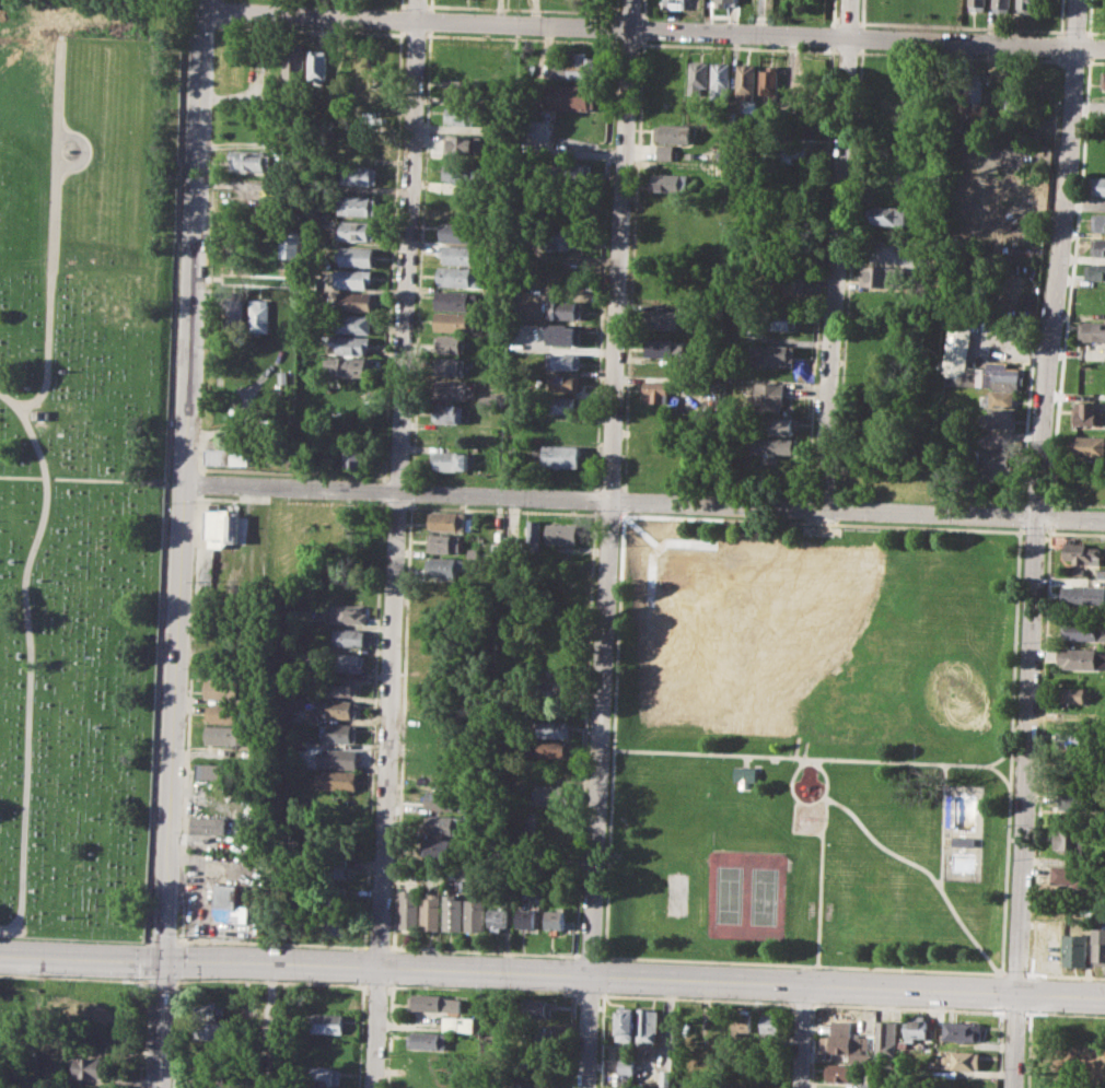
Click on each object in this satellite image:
building: (723, 2)
road: (431, 4)
building: (675, 4)
building: (976, 4)
building: (1000, 5)
building: (1025, 5)
road: (615, 8)
road: (643, 9)
road: (1090, 17)
road: (430, 19)
road: (614, 27)
road: (642, 28)
road: (653, 28)
road: (522, 38)
road: (627, 43)
road: (642, 43)
road: (1090, 46)
road: (846, 51)
road: (959, 56)
road: (1093, 61)
road: (1073, 62)
road: (1085, 62)
building: (294, 63)
building: (574, 66)
building: (316, 68)
building: (699, 74)
building: (720, 80)
building: (745, 80)
building: (1103, 81)
building: (767, 84)
building: (466, 89)
road: (1087, 90)
building: (973, 92)
building: (995, 93)
building: (1015, 94)
building: (572, 96)
building: (465, 114)
building: (673, 133)
building: (361, 143)
building: (463, 143)
building: (665, 152)
building: (793, 152)
road: (85, 153)
building: (248, 159)
building: (714, 167)
road: (637, 169)
building: (462, 172)
building: (573, 172)
building: (360, 175)
building: (670, 182)
building: (1098, 185)
building: (885, 197)
building: (356, 203)
building: (885, 214)
building: (1097, 222)
road: (53, 229)
building: (356, 230)
building: (461, 231)
building: (563, 237)
building: (289, 244)
building: (1097, 246)
building: (460, 254)
road: (835, 254)
building: (354, 256)
road: (603, 265)
building: (1093, 271)
building: (462, 276)
building: (882, 277)
building: (352, 278)
building: (783, 282)
building: (460, 299)
building: (881, 299)
building: (356, 301)
building: (565, 309)
building: (233, 313)
building: (258, 315)
building: (670, 317)
building: (777, 319)
building: (458, 321)
building: (352, 323)
building: (1091, 330)
building: (567, 335)
building: (350, 343)
building: (452, 344)
building: (956, 344)
road: (1010, 344)
building: (667, 348)
building: (775, 355)
building: (565, 360)
building: (349, 366)
building: (451, 366)
building: (987, 376)
building: (565, 383)
building: (451, 389)
building: (658, 389)
building: (767, 397)
building: (487, 399)
building: (999, 399)
building: (560, 405)
building: (446, 412)
building: (1084, 413)
building: (997, 419)
building: (781, 425)
road: (1025, 425)
building: (1086, 445)
building: (772, 446)
park: (85, 452)
building: (357, 453)
building: (228, 456)
building: (560, 456)
building: (449, 460)
building: (996, 460)
building: (910, 476)
road: (609, 487)
road: (621, 487)
road: (624, 500)
road: (641, 503)
road: (624, 512)
road: (1020, 515)
building: (446, 520)
building: (220, 525)
road: (924, 526)
building: (533, 527)
road: (1019, 527)
road: (1021, 530)
road: (1071, 533)
road: (1032, 534)
building: (561, 535)
building: (444, 542)
road: (1033, 542)
road: (176, 543)
road: (396, 543)
road: (608, 543)
building: (1082, 553)
building: (443, 566)
building: (1082, 595)
building: (349, 613)
building: (1082, 631)
building: (349, 636)
street lamp: (1017, 641)
road: (31, 654)
building: (1077, 657)
building: (347, 660)
park: (923, 662)
building: (340, 685)
building: (221, 689)
building: (1075, 693)
building: (339, 710)
building: (224, 713)
building: (554, 728)
building: (338, 732)
building: (226, 734)
building: (1075, 736)
park: (813, 742)
building: (554, 747)
street lamp: (1014, 748)
road: (1000, 756)
building: (336, 758)
road: (815, 758)
road: (810, 760)
building: (212, 771)
building: (746, 775)
building: (336, 780)
building: (551, 794)
building: (1075, 797)
building: (442, 799)
building: (209, 824)
building: (443, 824)
road: (942, 824)
road: (823, 837)
building: (1071, 838)
building: (963, 842)
building: (440, 849)
street lamp: (1009, 858)
building: (338, 865)
road: (915, 867)
building: (1069, 875)
park: (677, 893)
park: (728, 894)
park: (763, 896)
building: (229, 904)
building: (409, 909)
building: (432, 909)
building: (453, 911)
building: (476, 913)
building: (499, 915)
building: (526, 917)
building: (556, 919)
building: (340, 923)
street lamp: (181, 935)
street lamp: (389, 943)
building: (1100, 946)
building: (1075, 949)
road: (608, 956)
traffic signals: (162, 957)
road: (605, 957)
road: (906, 969)
street lamp: (1004, 969)
road: (552, 972)
road: (995, 972)
road: (1014, 973)
street lamp: (33, 974)
road: (603, 974)
road: (1000, 974)
road: (1031, 975)
road: (1066, 975)
road: (73, 978)
street lamp: (118, 978)
street lamp: (181, 979)
street lamp: (276, 979)
road: (269, 980)
road: (160, 981)
street lamp: (359, 983)
street lamp: (395, 984)
road: (376, 986)
street lamp: (482, 987)
road: (482, 990)
street lamp: (571, 992)
road: (1000, 992)
street lamp: (613, 993)
road: (1030, 993)
road: (589, 995)
road: (695, 997)
street lamp: (698, 997)
street lamp: (777, 999)
building: (434, 1002)
road: (801, 1002)
street lamp: (816, 1003)
street lamp: (900, 1005)
road: (906, 1007)
building: (206, 1008)
building: (538, 1008)
street lamp: (987, 1008)
street lamp: (1033, 1010)
road: (1013, 1011)
road: (1026, 1013)
road: (1067, 1014)
building: (23, 1015)
street lamp: (810, 1020)
building: (325, 1022)
road: (269, 1023)
building: (460, 1023)
building: (626, 1023)
building: (770, 1023)
building: (742, 1025)
building: (209, 1029)
building: (649, 1029)
building: (918, 1030)
building: (963, 1031)
building: (537, 1034)
road: (802, 1036)
building: (886, 1039)
building: (428, 1040)
road: (601, 1040)
building: (841, 1040)
building: (324, 1046)
road: (998, 1048)
road: (1026, 1049)
street lamp: (385, 1055)
building: (962, 1060)
building: (535, 1061)
building: (88, 1066)
building: (635, 1067)
building: (838, 1073)
building: (323, 1076)
building: (533, 1085)
building: (868, 1085)
building: (210, 1086)

